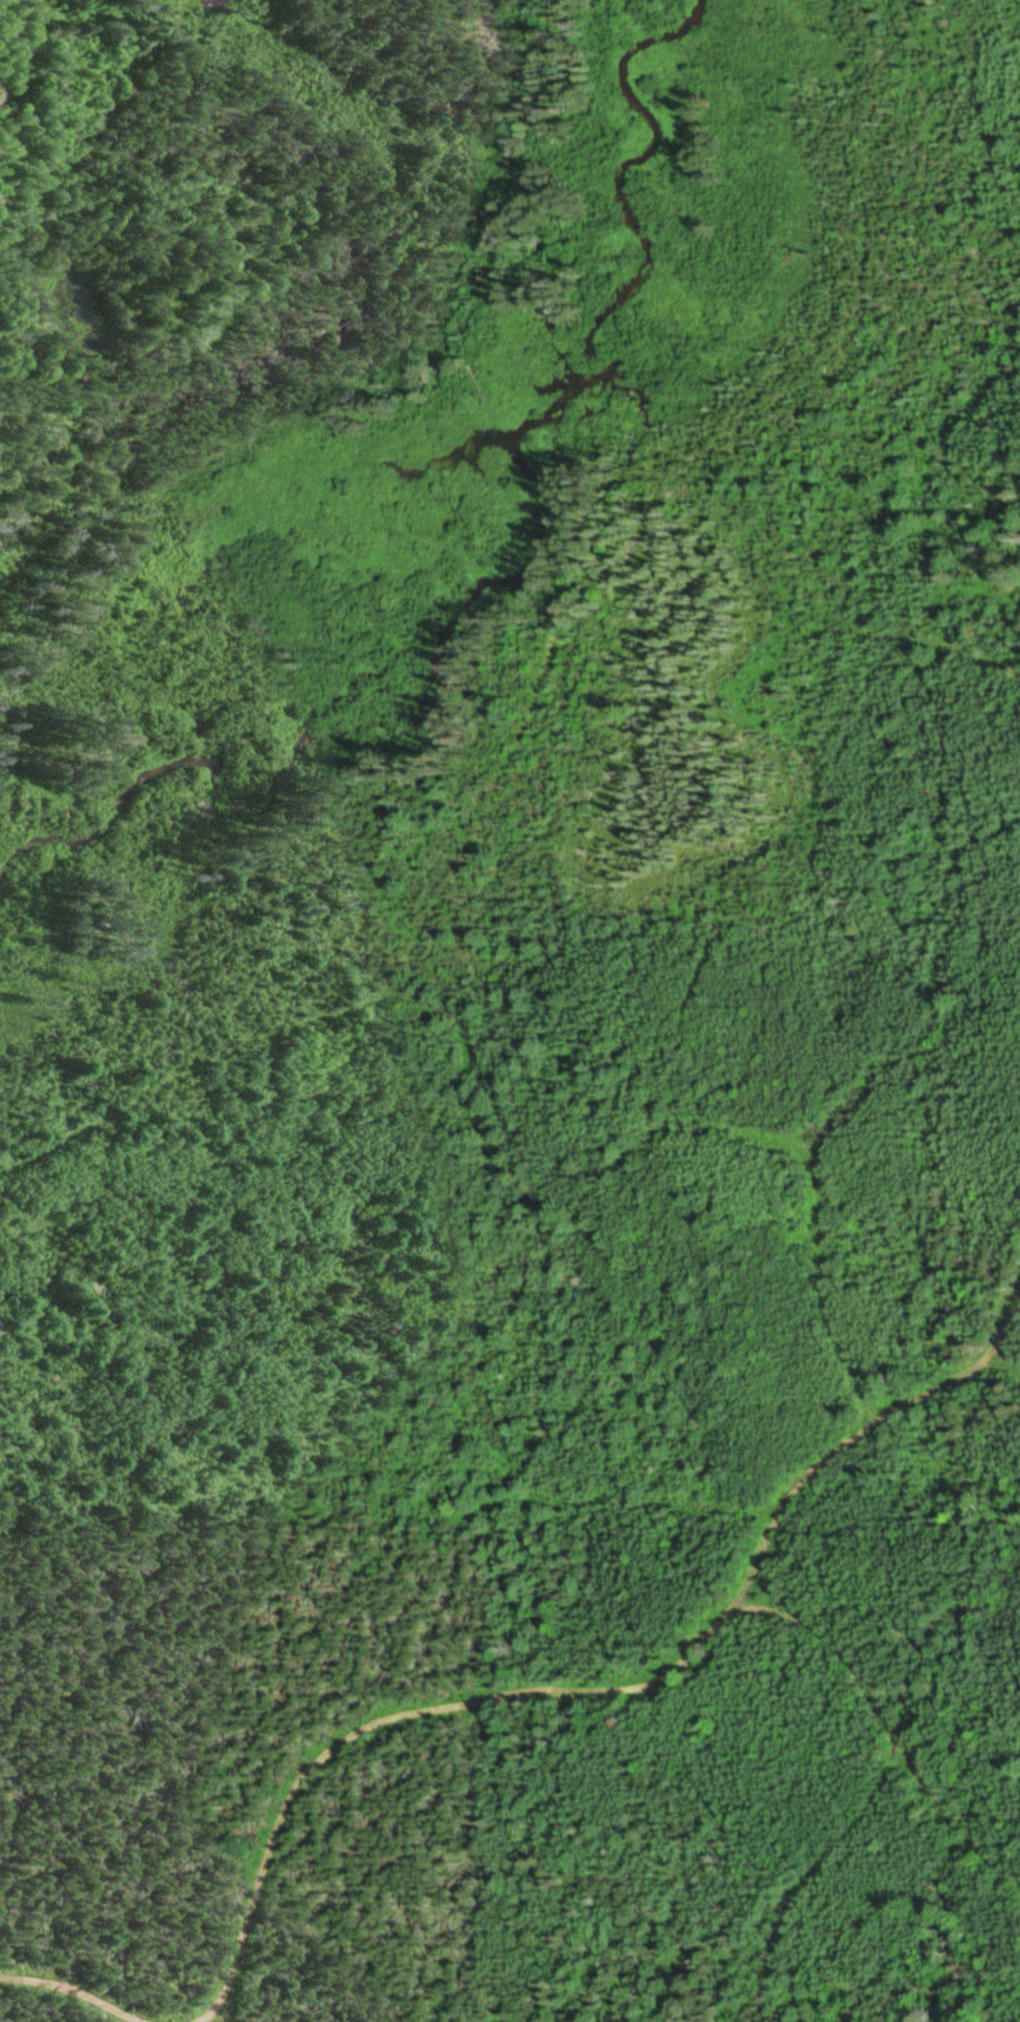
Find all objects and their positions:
road: (582, 679)
road: (584, 1675)
road: (88, 1997)

